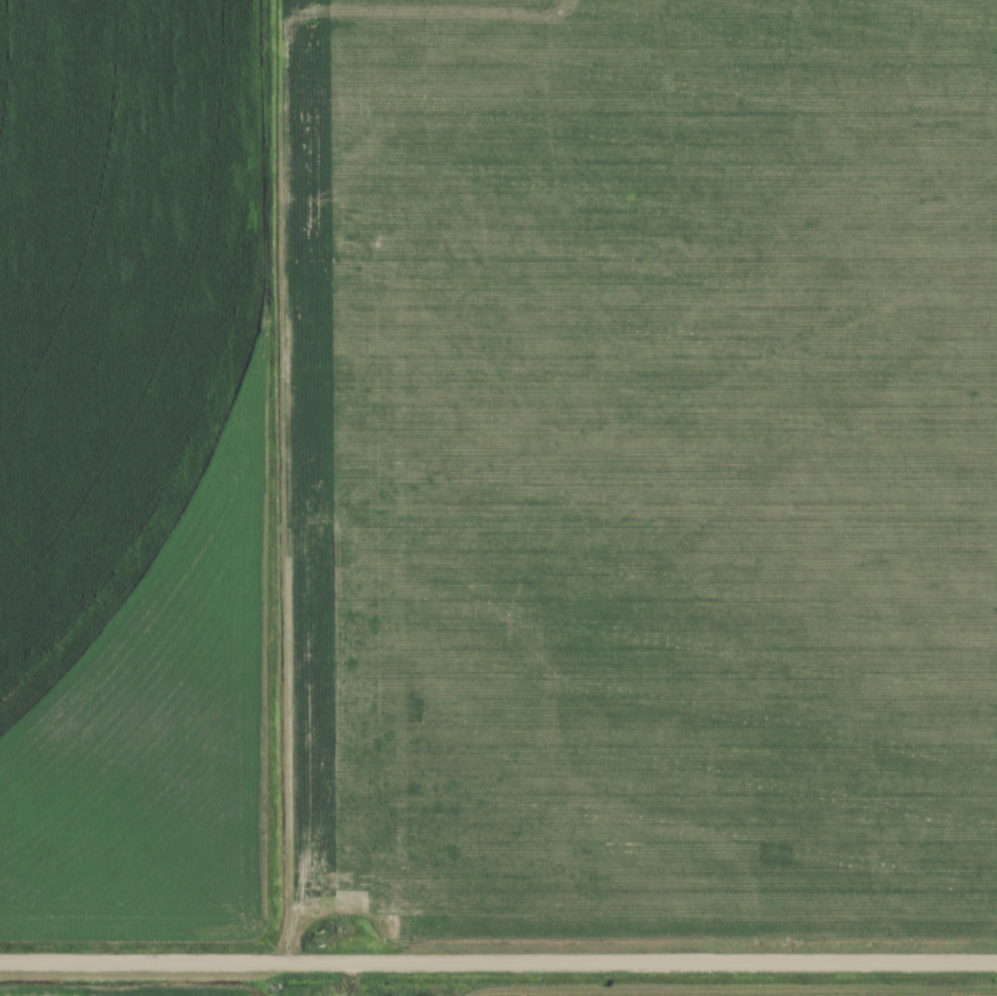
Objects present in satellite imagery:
road: (498, 965)

